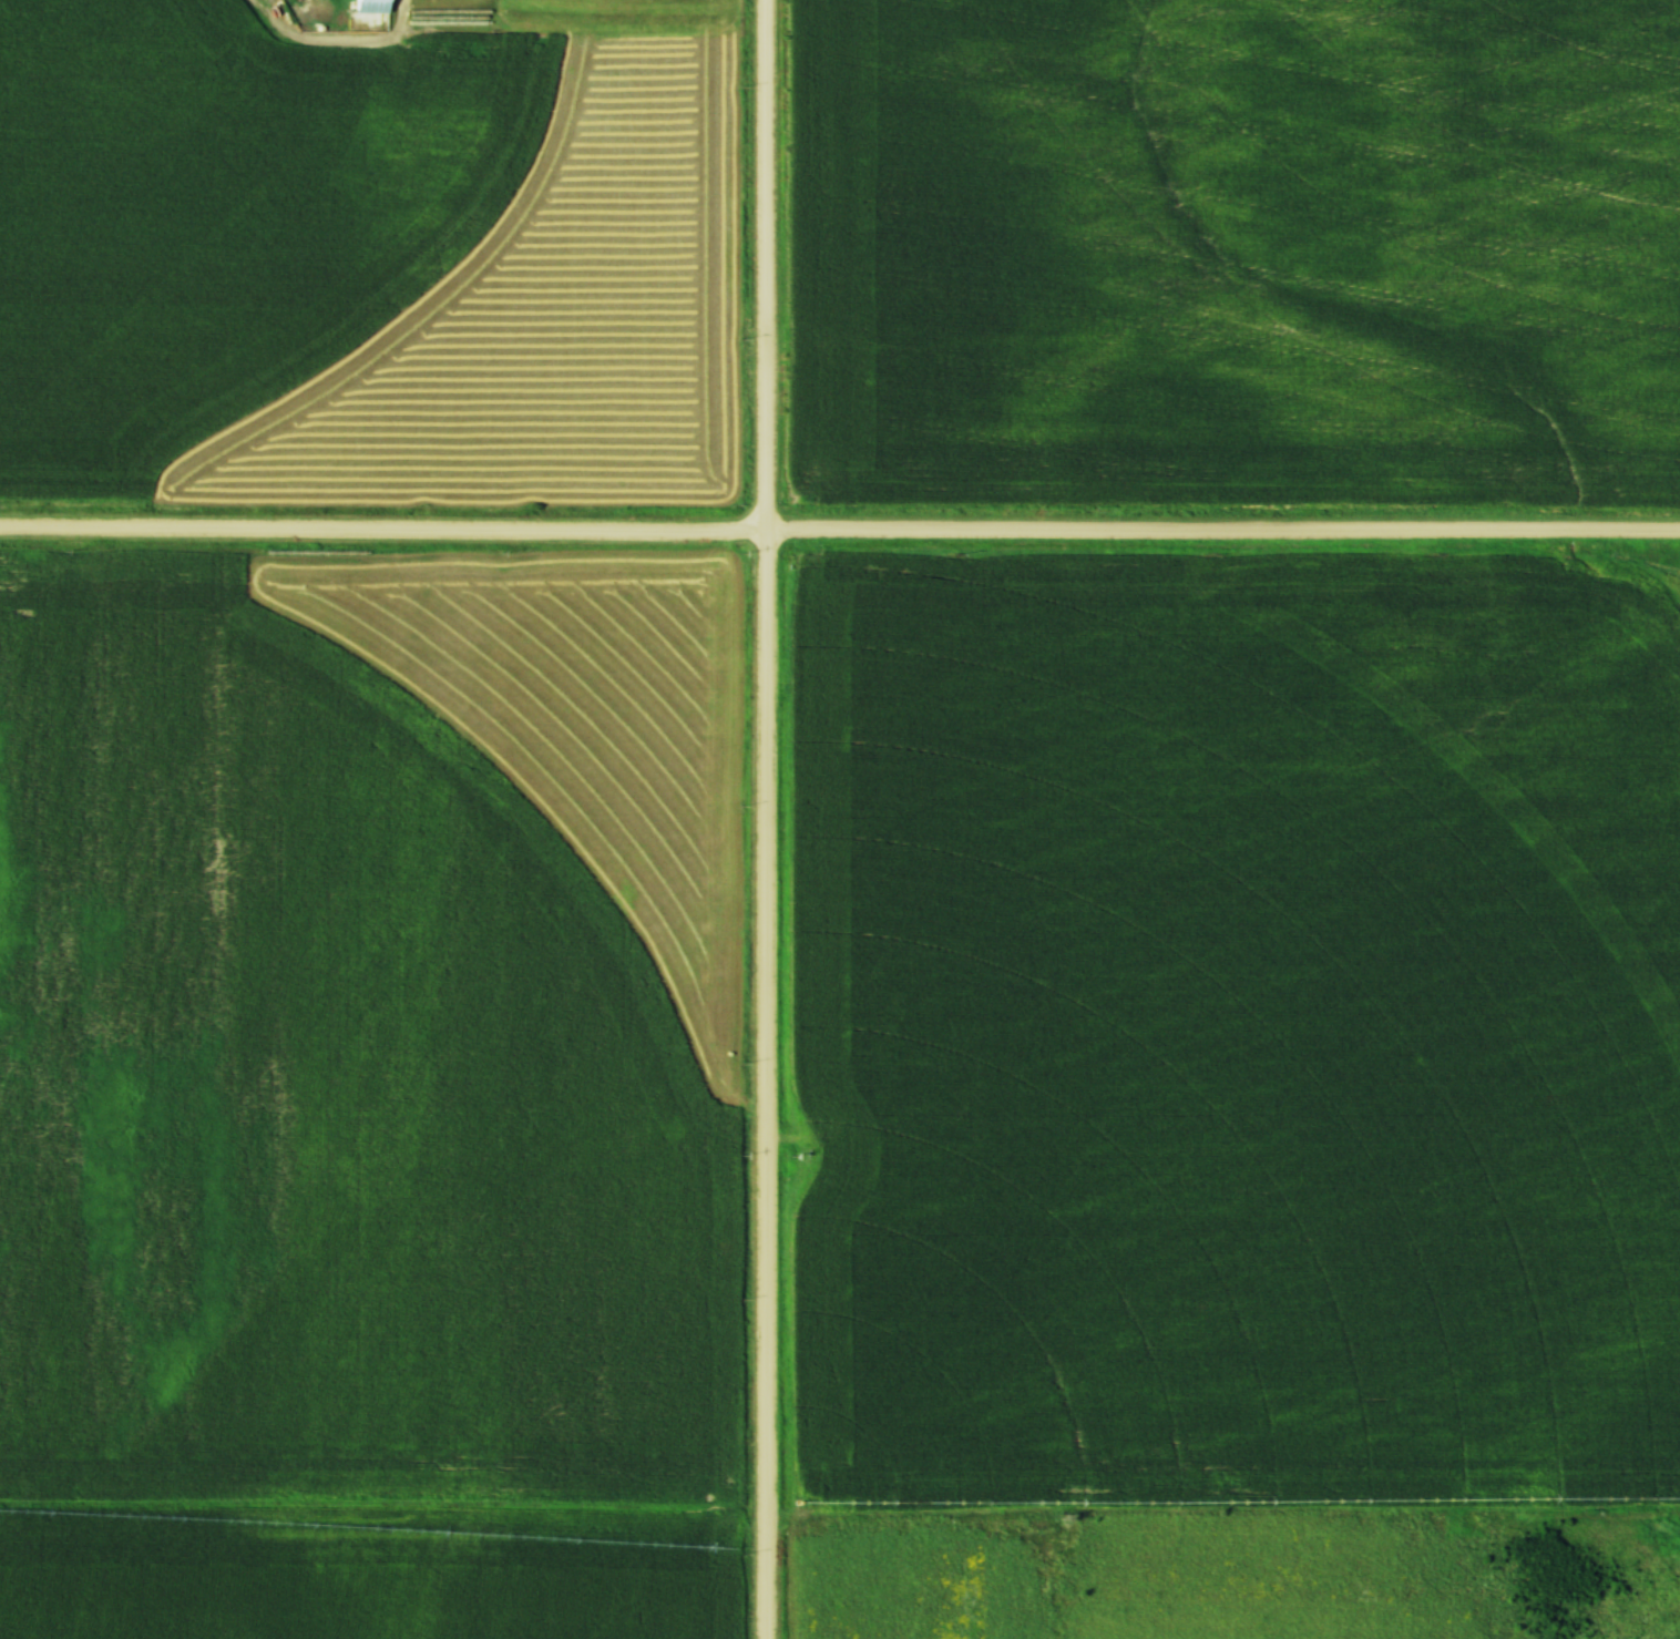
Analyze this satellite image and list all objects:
building: (367, 0)
road: (839, 529)
road: (767, 819)

